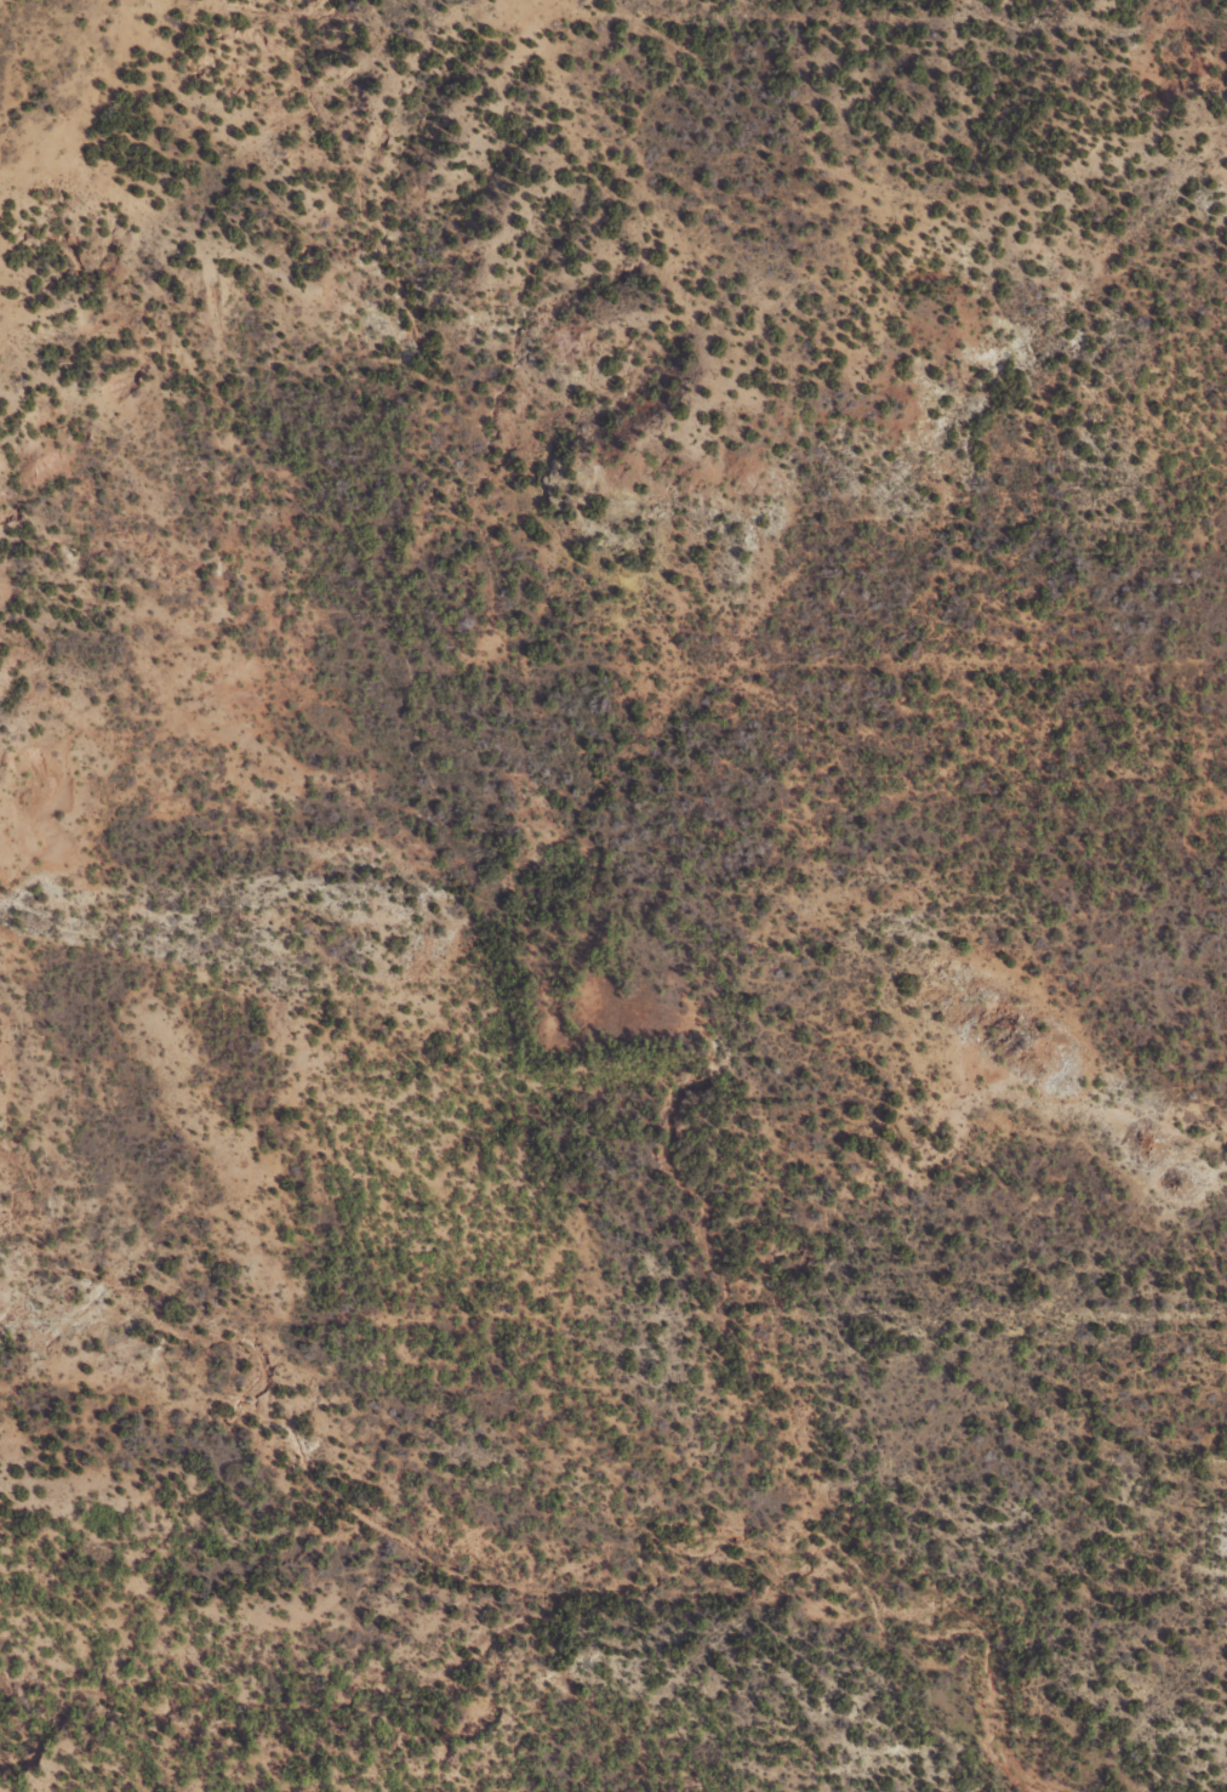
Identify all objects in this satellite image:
road: (27, 45)
road: (862, 188)

